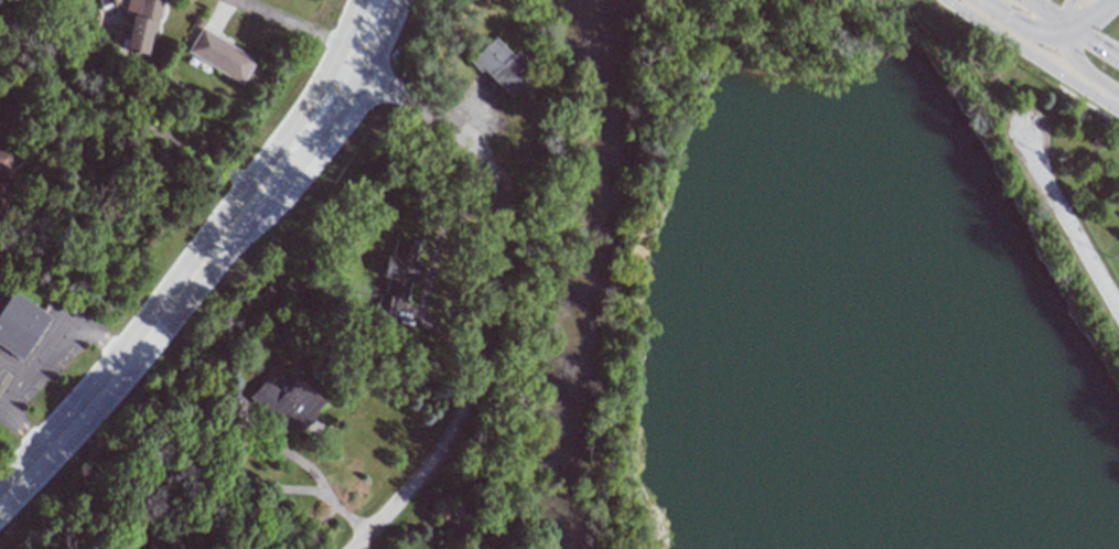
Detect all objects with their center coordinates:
road: (1043, 14)
road: (1066, 14)
road: (1085, 14)
road: (283, 23)
road: (1021, 23)
building: (140, 24)
road: (348, 26)
road: (381, 35)
road: (1091, 45)
building: (219, 55)
road: (1032, 55)
road: (352, 62)
building: (499, 67)
road: (1083, 68)
road: (301, 115)
road: (131, 119)
road: (321, 130)
building: (3, 180)
road: (1065, 229)
road: (428, 270)
river: (582, 274)
building: (396, 279)
road: (486, 298)
park: (826, 298)
building: (19, 324)
road: (142, 343)
road: (35, 362)
building: (286, 403)
road: (247, 424)
road: (359, 545)
building: (170, 546)
building: (148, 547)

